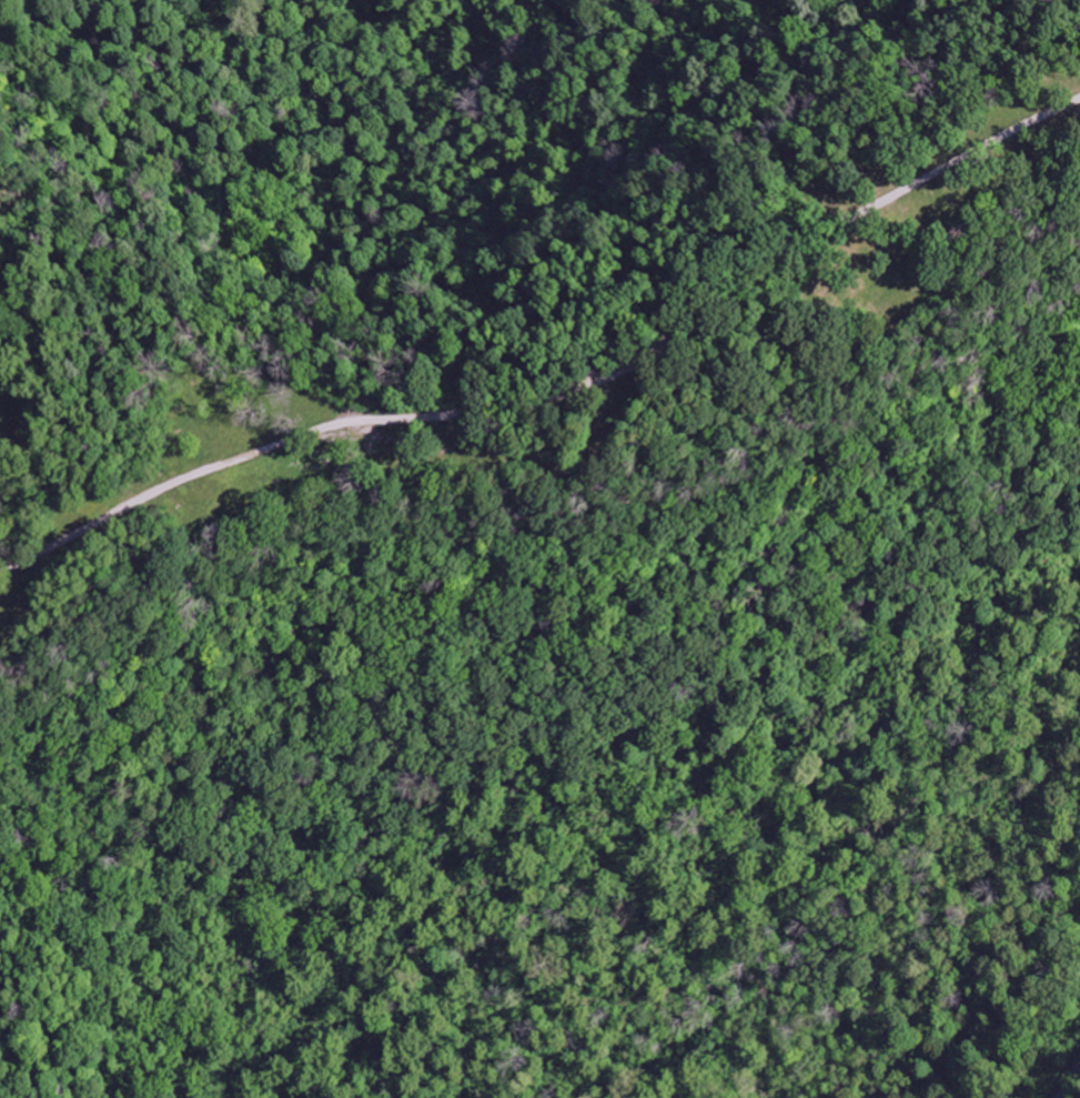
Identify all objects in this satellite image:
road: (571, 400)

